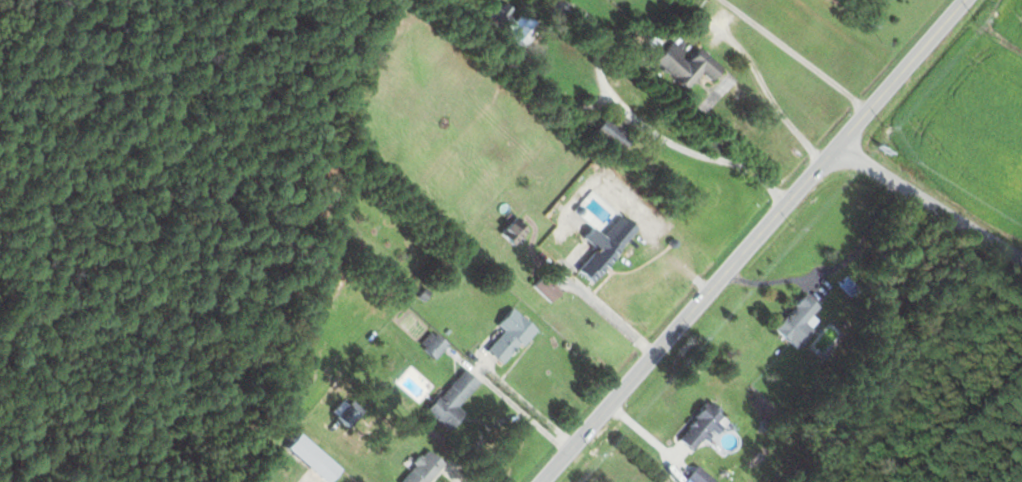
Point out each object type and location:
power tower: (973, 20)
building: (507, 24)
road: (612, 37)
road: (795, 54)
building: (684, 66)
road: (901, 75)
power tower: (880, 125)
building: (608, 135)
road: (928, 207)
power tower: (793, 228)
building: (510, 232)
building: (603, 247)
building: (318, 259)
road: (829, 268)
road: (689, 317)
building: (795, 322)
power tower: (696, 336)
building: (506, 338)
road: (482, 370)
building: (450, 401)
building: (699, 427)
road: (566, 445)
power tower: (595, 453)
building: (310, 459)
building: (421, 469)
building: (696, 476)

